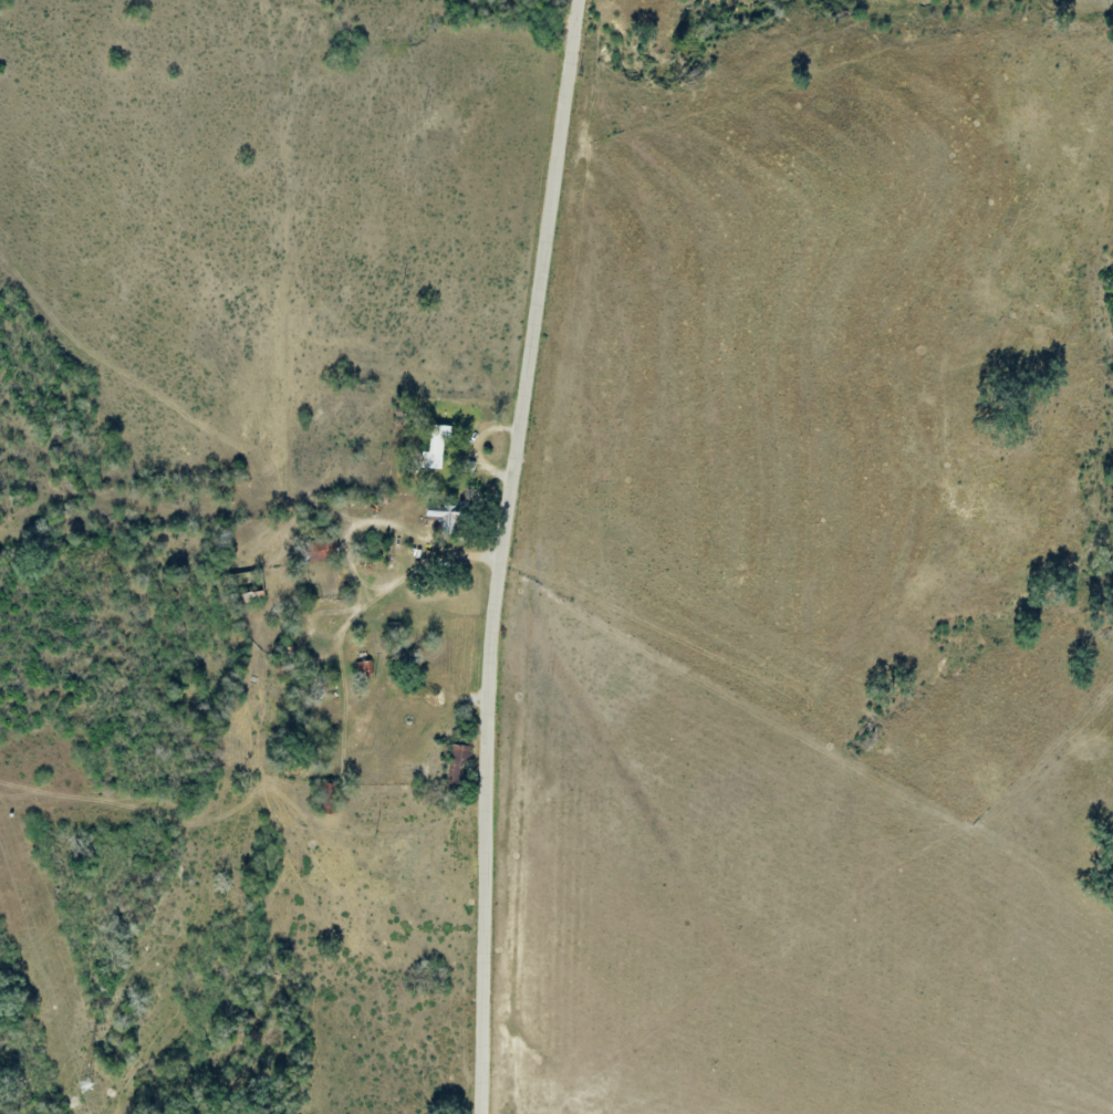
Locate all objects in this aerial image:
building: (434, 447)
road: (508, 554)
road: (320, 683)
road: (420, 714)
power tower: (85, 1089)

